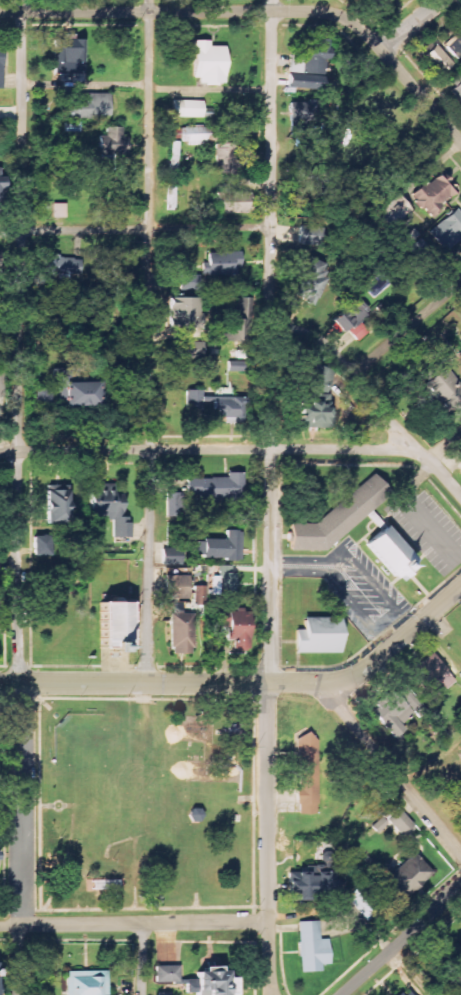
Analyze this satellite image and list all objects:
building: (384, 2)
road: (162, 12)
building: (459, 17)
road: (410, 25)
building: (68, 56)
building: (311, 58)
building: (437, 60)
building: (2, 63)
building: (209, 63)
road: (398, 69)
building: (307, 78)
road: (86, 84)
building: (307, 85)
road: (210, 89)
building: (457, 91)
building: (88, 105)
building: (188, 108)
building: (301, 112)
building: (173, 134)
building: (199, 135)
building: (112, 144)
building: (434, 195)
building: (233, 203)
building: (59, 210)
building: (391, 213)
road: (135, 229)
building: (448, 231)
building: (311, 236)
building: (224, 264)
building: (63, 266)
building: (311, 281)
building: (188, 307)
building: (352, 320)
building: (233, 330)
road: (405, 332)
road: (151, 341)
building: (190, 349)
building: (321, 379)
building: (445, 389)
building: (75, 390)
road: (366, 396)
building: (229, 409)
building: (315, 412)
road: (208, 449)
building: (218, 488)
road: (21, 497)
road: (270, 497)
building: (58, 504)
building: (176, 504)
building: (339, 518)
building: (44, 546)
building: (221, 547)
building: (392, 554)
building: (172, 556)
building: (226, 583)
building: (177, 585)
building: (200, 595)
building: (105, 626)
building: (239, 630)
building: (182, 634)
building: (320, 637)
road: (394, 642)
building: (433, 676)
road: (160, 683)
building: (412, 703)
building: (393, 714)
road: (391, 772)
building: (308, 776)
road: (10, 806)
park: (146, 806)
building: (401, 822)
building: (409, 875)
building: (304, 885)
road: (134, 923)
road: (401, 942)
building: (313, 947)
building: (458, 953)
road: (141, 959)
building: (167, 974)
building: (210, 982)
building: (87, 983)
building: (405, 992)
building: (164, 993)

